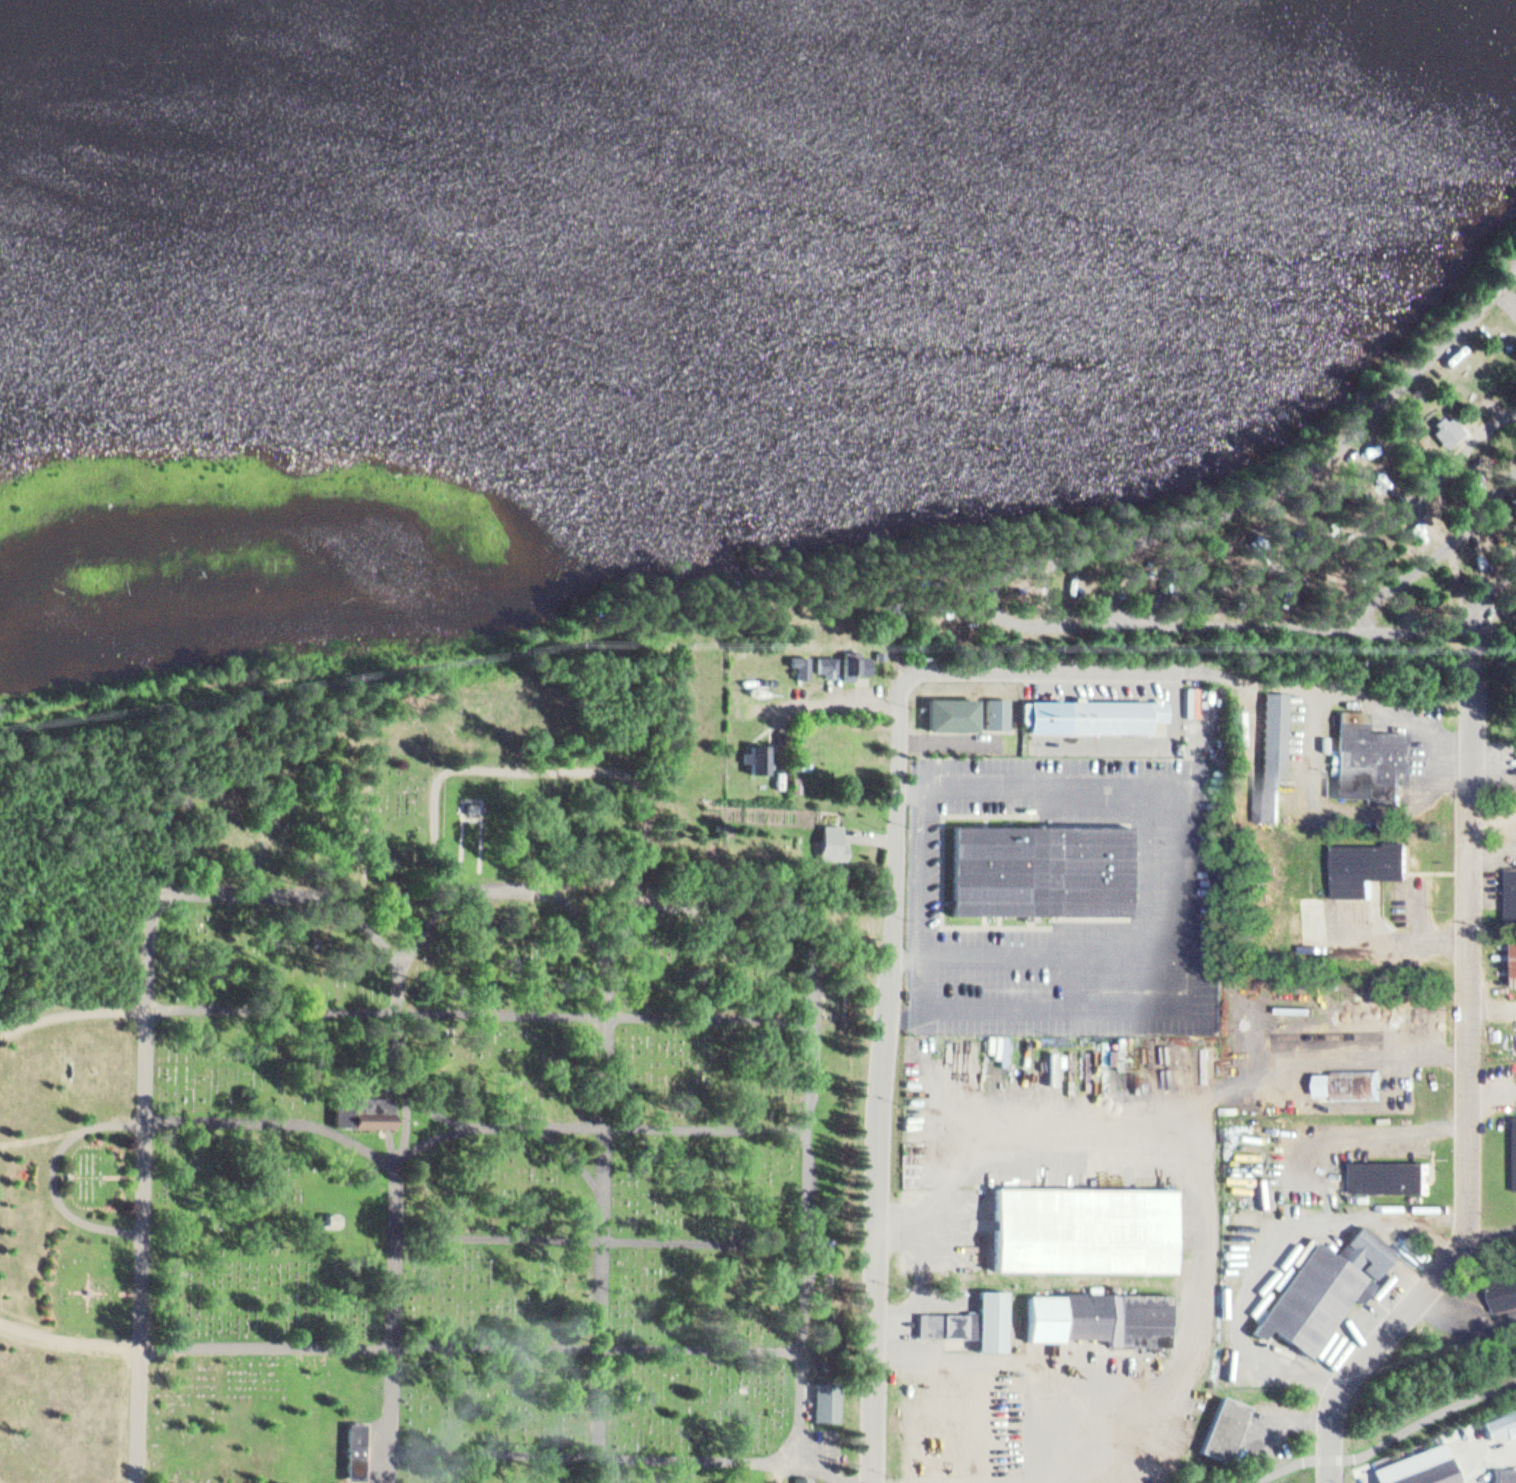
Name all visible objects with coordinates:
building: (1444, 425)
road: (1353, 511)
park: (1292, 518)
road: (1426, 561)
road: (1018, 564)
road: (1169, 571)
road: (1481, 602)
building: (878, 652)
building: (852, 661)
building: (824, 663)
building: (798, 664)
road: (1072, 670)
road: (1358, 674)
building: (996, 711)
building: (950, 712)
building: (1094, 713)
building: (756, 753)
building: (1273, 754)
building: (1371, 756)
road: (522, 769)
building: (794, 783)
building: (469, 808)
road: (872, 837)
building: (828, 839)
building: (1373, 859)
building: (1038, 867)
building: (1514, 890)
road: (600, 901)
road: (756, 917)
road: (624, 934)
road: (198, 1010)
road: (482, 1016)
road: (606, 1071)
building: (1349, 1080)
road: (890, 1083)
road: (409, 1086)
road: (1473, 1104)
building: (368, 1106)
park: (417, 1108)
road: (593, 1129)
road: (408, 1133)
road: (575, 1156)
building: (1394, 1174)
road: (60, 1175)
road: (397, 1196)
building: (328, 1215)
building: (333, 1220)
building: (1085, 1227)
road: (600, 1239)
building: (1326, 1285)
building: (1506, 1296)
building: (1097, 1312)
building: (993, 1317)
building: (949, 1321)
road: (398, 1345)
building: (825, 1393)
building: (1499, 1419)
building: (1226, 1427)
road: (1385, 1444)
building: (360, 1445)
road: (498, 1454)
road: (1481, 1454)
building: (1420, 1465)
road: (829, 1468)
building: (1505, 1472)
building: (801, 1477)

